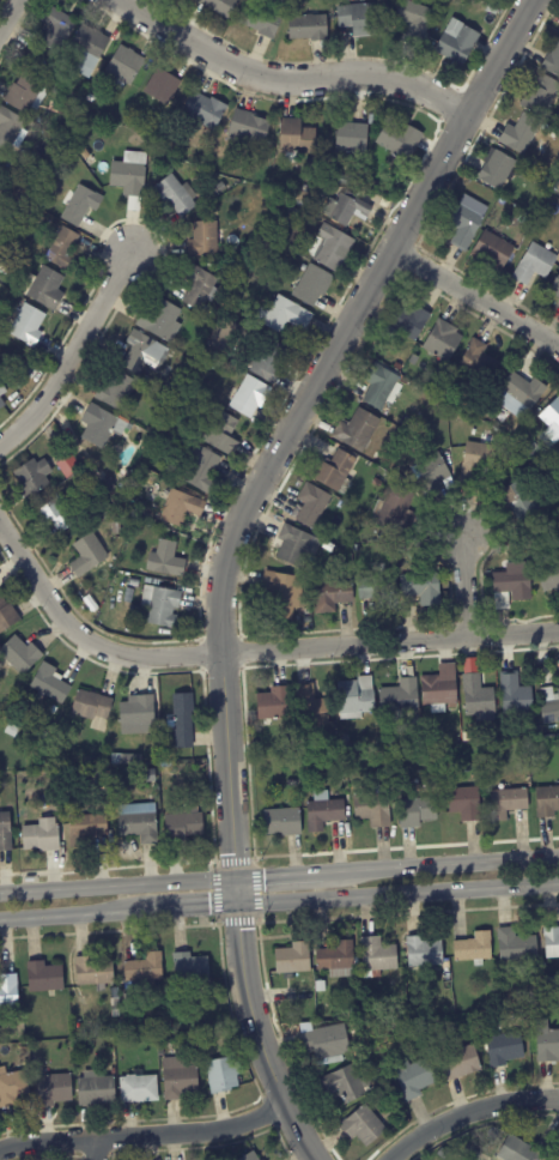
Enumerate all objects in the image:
building: (221, 6)
road: (7, 13)
building: (359, 19)
building: (261, 20)
building: (415, 22)
building: (310, 28)
building: (56, 29)
building: (558, 30)
building: (458, 47)
building: (89, 49)
building: (26, 61)
building: (553, 61)
building: (124, 67)
road: (287, 79)
building: (56, 83)
building: (165, 89)
building: (24, 93)
building: (542, 96)
building: (205, 111)
building: (72, 114)
building: (249, 128)
building: (11, 129)
building: (522, 134)
building: (298, 138)
building: (351, 138)
building: (400, 140)
building: (1, 159)
building: (527, 165)
building: (498, 170)
building: (130, 177)
building: (35, 180)
building: (345, 180)
building: (215, 192)
building: (177, 195)
building: (303, 197)
building: (80, 205)
building: (350, 207)
building: (290, 220)
building: (496, 220)
building: (466, 225)
building: (206, 240)
building: (245, 248)
building: (332, 248)
building: (63, 249)
building: (494, 249)
building: (536, 264)
building: (2, 267)
building: (304, 268)
building: (314, 285)
building: (201, 288)
building: (44, 289)
building: (555, 289)
road: (475, 297)
building: (558, 303)
building: (285, 315)
building: (162, 321)
building: (201, 322)
building: (408, 324)
building: (28, 325)
building: (230, 338)
building: (443, 340)
building: (30, 351)
building: (140, 352)
road: (71, 354)
building: (269, 360)
building: (414, 360)
building: (19, 362)
building: (479, 363)
building: (11, 367)
building: (170, 376)
building: (382, 387)
building: (117, 391)
building: (522, 392)
building: (2, 395)
building: (250, 397)
building: (184, 399)
building: (176, 421)
building: (552, 422)
building: (99, 427)
road: (287, 428)
building: (358, 430)
building: (223, 434)
building: (534, 451)
building: (153, 453)
building: (478, 461)
building: (540, 465)
building: (205, 472)
building: (335, 473)
building: (435, 475)
building: (34, 477)
building: (109, 487)
building: (525, 500)
building: (312, 506)
building: (181, 509)
building: (396, 509)
building: (56, 516)
building: (116, 528)
building: (525, 532)
building: (294, 546)
building: (87, 556)
building: (168, 561)
building: (549, 578)
building: (134, 584)
road: (463, 586)
building: (512, 586)
building: (423, 590)
building: (381, 592)
building: (284, 593)
building: (332, 597)
building: (162, 606)
building: (135, 614)
building: (7, 616)
road: (248, 651)
building: (20, 657)
building: (51, 685)
building: (440, 688)
building: (516, 695)
building: (479, 697)
building: (357, 699)
building: (402, 700)
building: (274, 705)
building: (551, 707)
building: (310, 708)
building: (93, 709)
building: (138, 717)
building: (184, 723)
building: (26, 730)
building: (474, 730)
building: (34, 749)
building: (127, 761)
building: (148, 777)
building: (296, 784)
building: (41, 802)
building: (547, 803)
building: (509, 804)
building: (466, 805)
building: (376, 809)
building: (324, 812)
building: (418, 814)
building: (284, 823)
building: (140, 824)
building: (184, 828)
building: (87, 829)
building: (6, 834)
building: (42, 839)
road: (279, 874)
traffic signals: (235, 877)
road: (397, 894)
traffic signals: (237, 905)
road: (187, 908)
road: (68, 916)
building: (552, 942)
building: (517, 945)
building: (473, 948)
building: (425, 951)
building: (378, 955)
building: (293, 959)
building: (338, 960)
building: (190, 967)
building: (146, 968)
building: (96, 972)
building: (44, 977)
building: (552, 984)
building: (321, 986)
building: (10, 991)
building: (128, 999)
building: (117, 1003)
building: (371, 1010)
building: (117, 1011)
road: (256, 1037)
building: (177, 1038)
building: (327, 1041)
building: (547, 1043)
building: (505, 1047)
building: (160, 1051)
building: (205, 1053)
building: (193, 1061)
building: (462, 1062)
building: (224, 1074)
building: (414, 1076)
building: (180, 1077)
building: (385, 1083)
building: (347, 1086)
building: (13, 1087)
building: (54, 1089)
building: (97, 1089)
building: (139, 1089)
road: (467, 1112)
building: (364, 1125)
road: (144, 1136)
road: (93, 1149)
building: (524, 1150)
building: (440, 1153)
building: (473, 1153)
building: (250, 1156)

